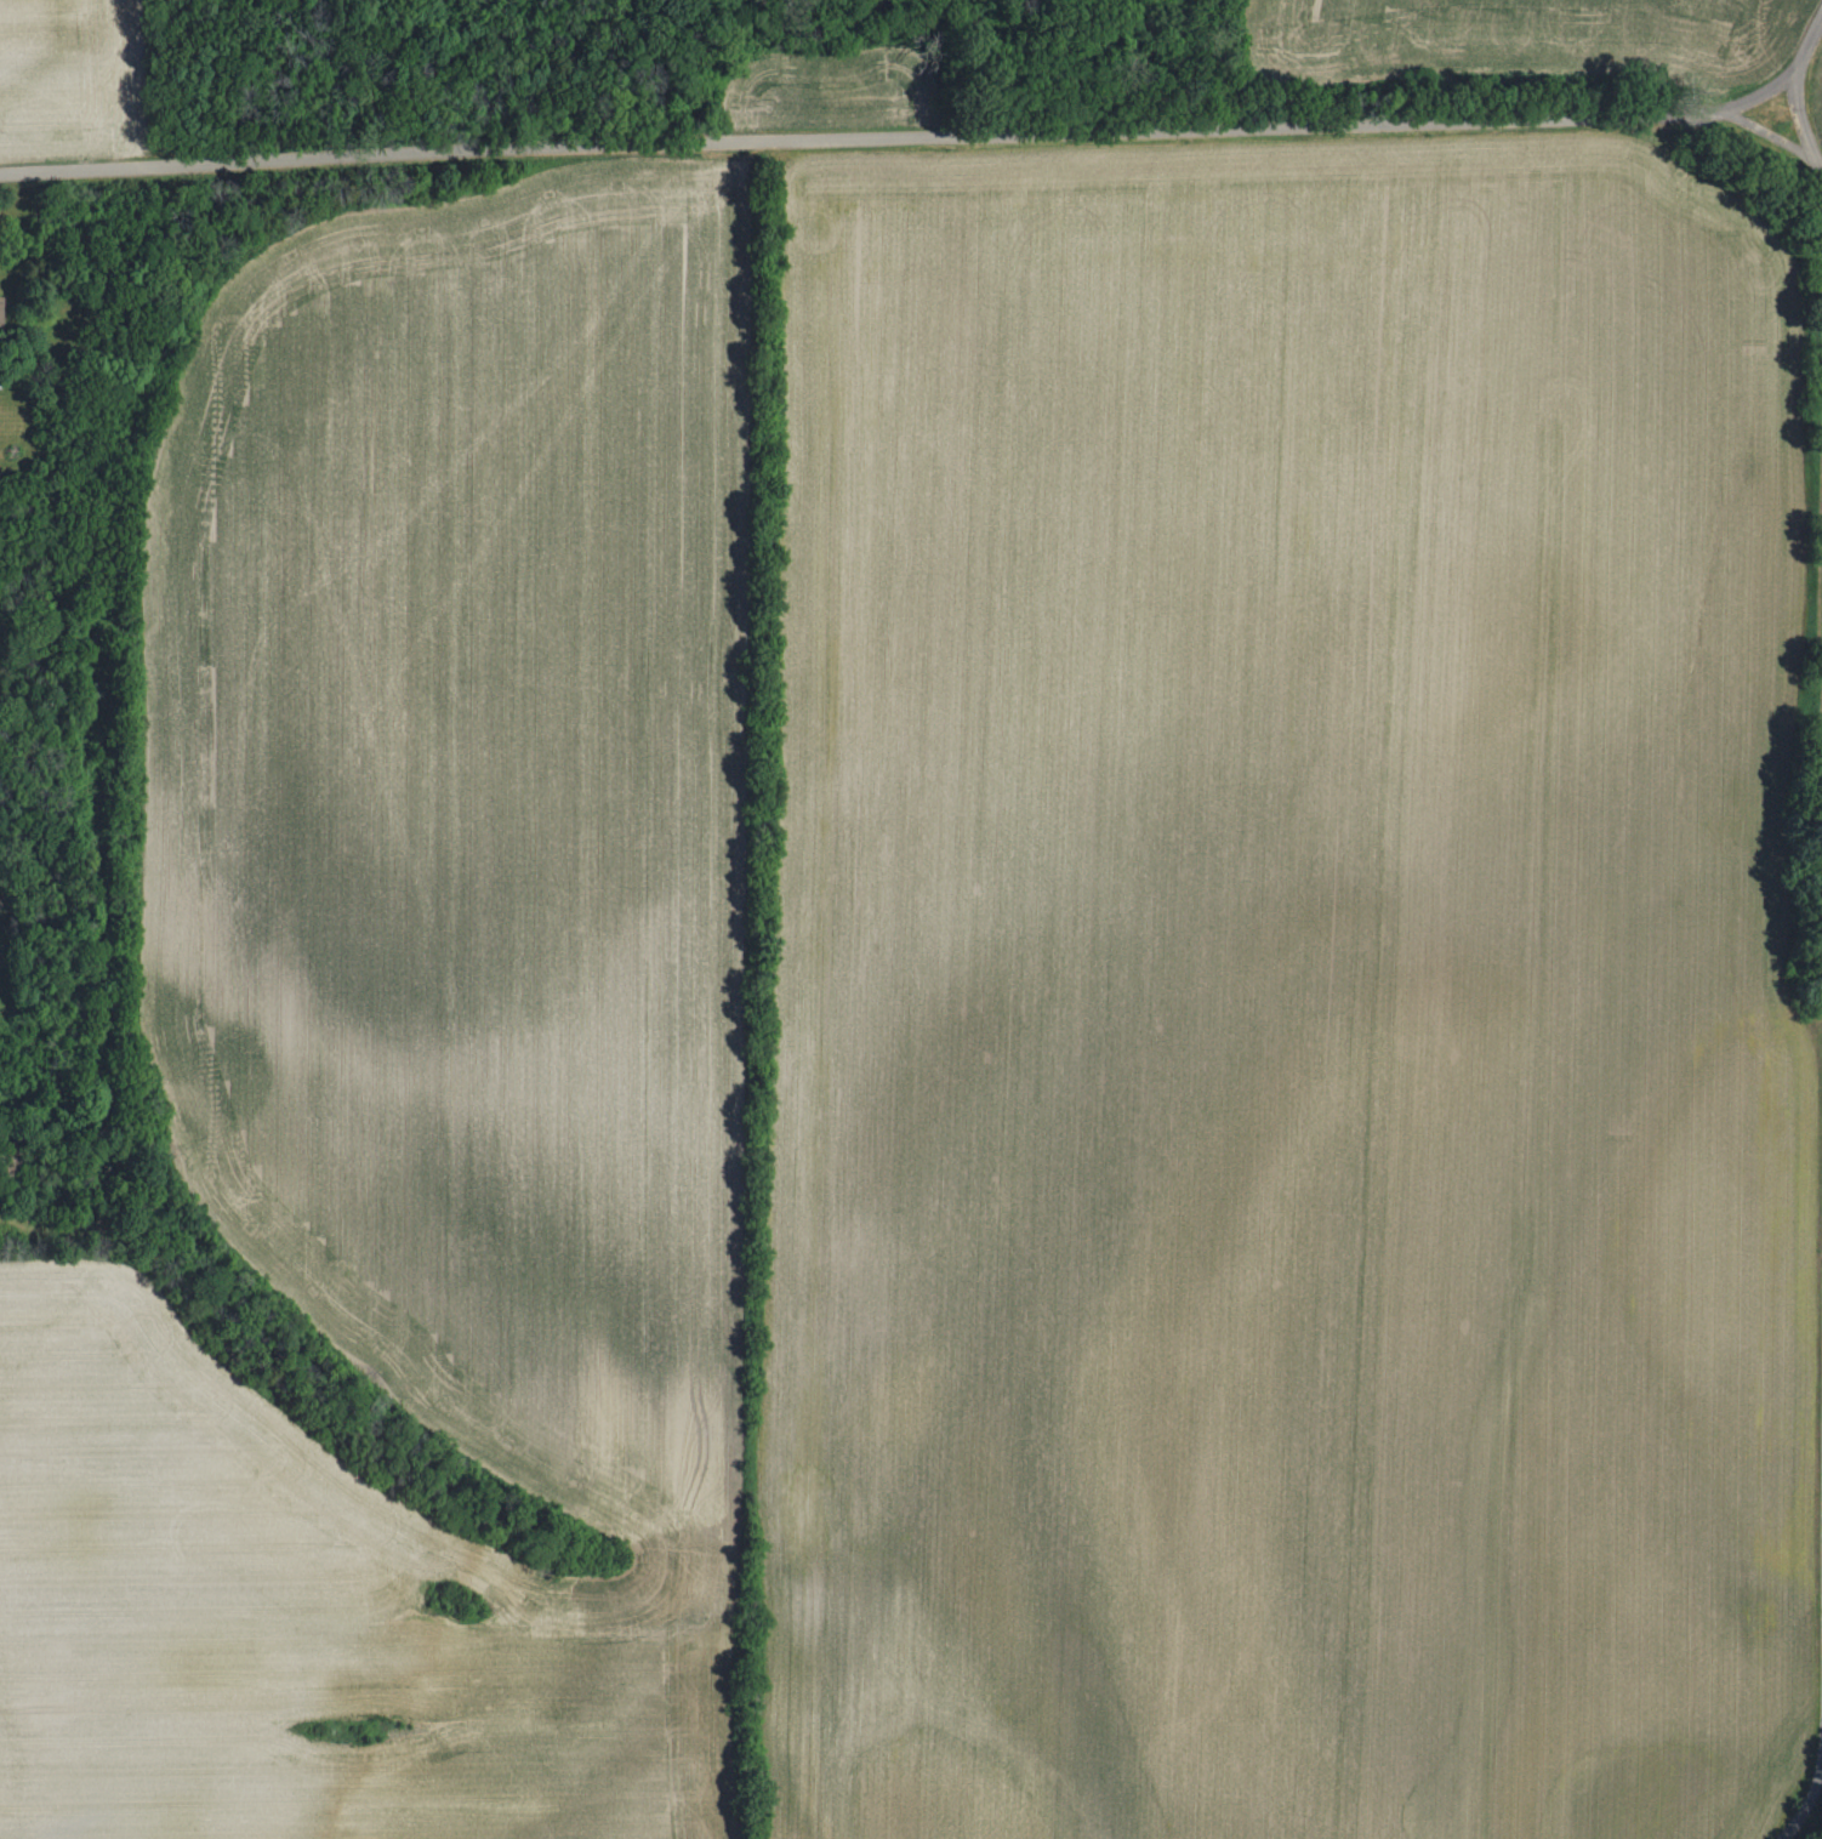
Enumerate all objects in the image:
road: (1798, 87)
road: (1756, 93)
road: (1771, 131)
road: (858, 132)
building: (1, 900)
road: (1804, 1800)

